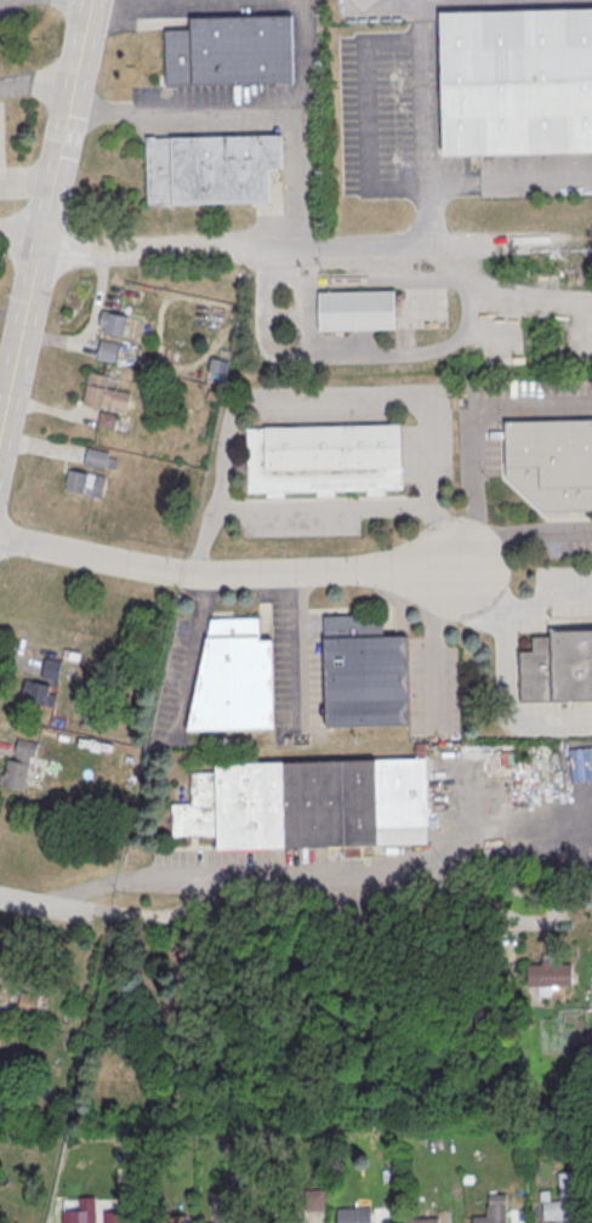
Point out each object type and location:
road: (85, 0)
road: (99, 0)
road: (428, 8)
building: (230, 50)
building: (516, 80)
road: (35, 86)
road: (428, 99)
road: (366, 112)
road: (186, 114)
road: (63, 120)
road: (308, 121)
building: (211, 169)
road: (25, 174)
road: (511, 178)
road: (431, 211)
road: (19, 234)
road: (437, 241)
road: (234, 245)
building: (357, 314)
building: (112, 323)
road: (18, 331)
building: (116, 353)
road: (370, 355)
building: (103, 393)
road: (334, 396)
road: (477, 416)
building: (107, 420)
building: (99, 459)
building: (324, 462)
building: (552, 463)
building: (85, 483)
road: (326, 510)
road: (531, 539)
road: (466, 550)
road: (228, 574)
road: (482, 590)
road: (546, 593)
road: (432, 639)
building: (41, 666)
building: (557, 667)
building: (365, 672)
building: (233, 677)
building: (41, 684)
road: (508, 706)
building: (18, 766)
building: (307, 803)
road: (291, 869)
road: (44, 906)
building: (550, 971)
building: (1, 1037)
building: (240, 1184)
building: (567, 1196)
building: (314, 1201)
building: (493, 1210)
building: (223, 1215)
building: (353, 1215)
building: (91, 1216)
building: (161, 1218)
building: (422, 1221)
building: (290, 1222)

